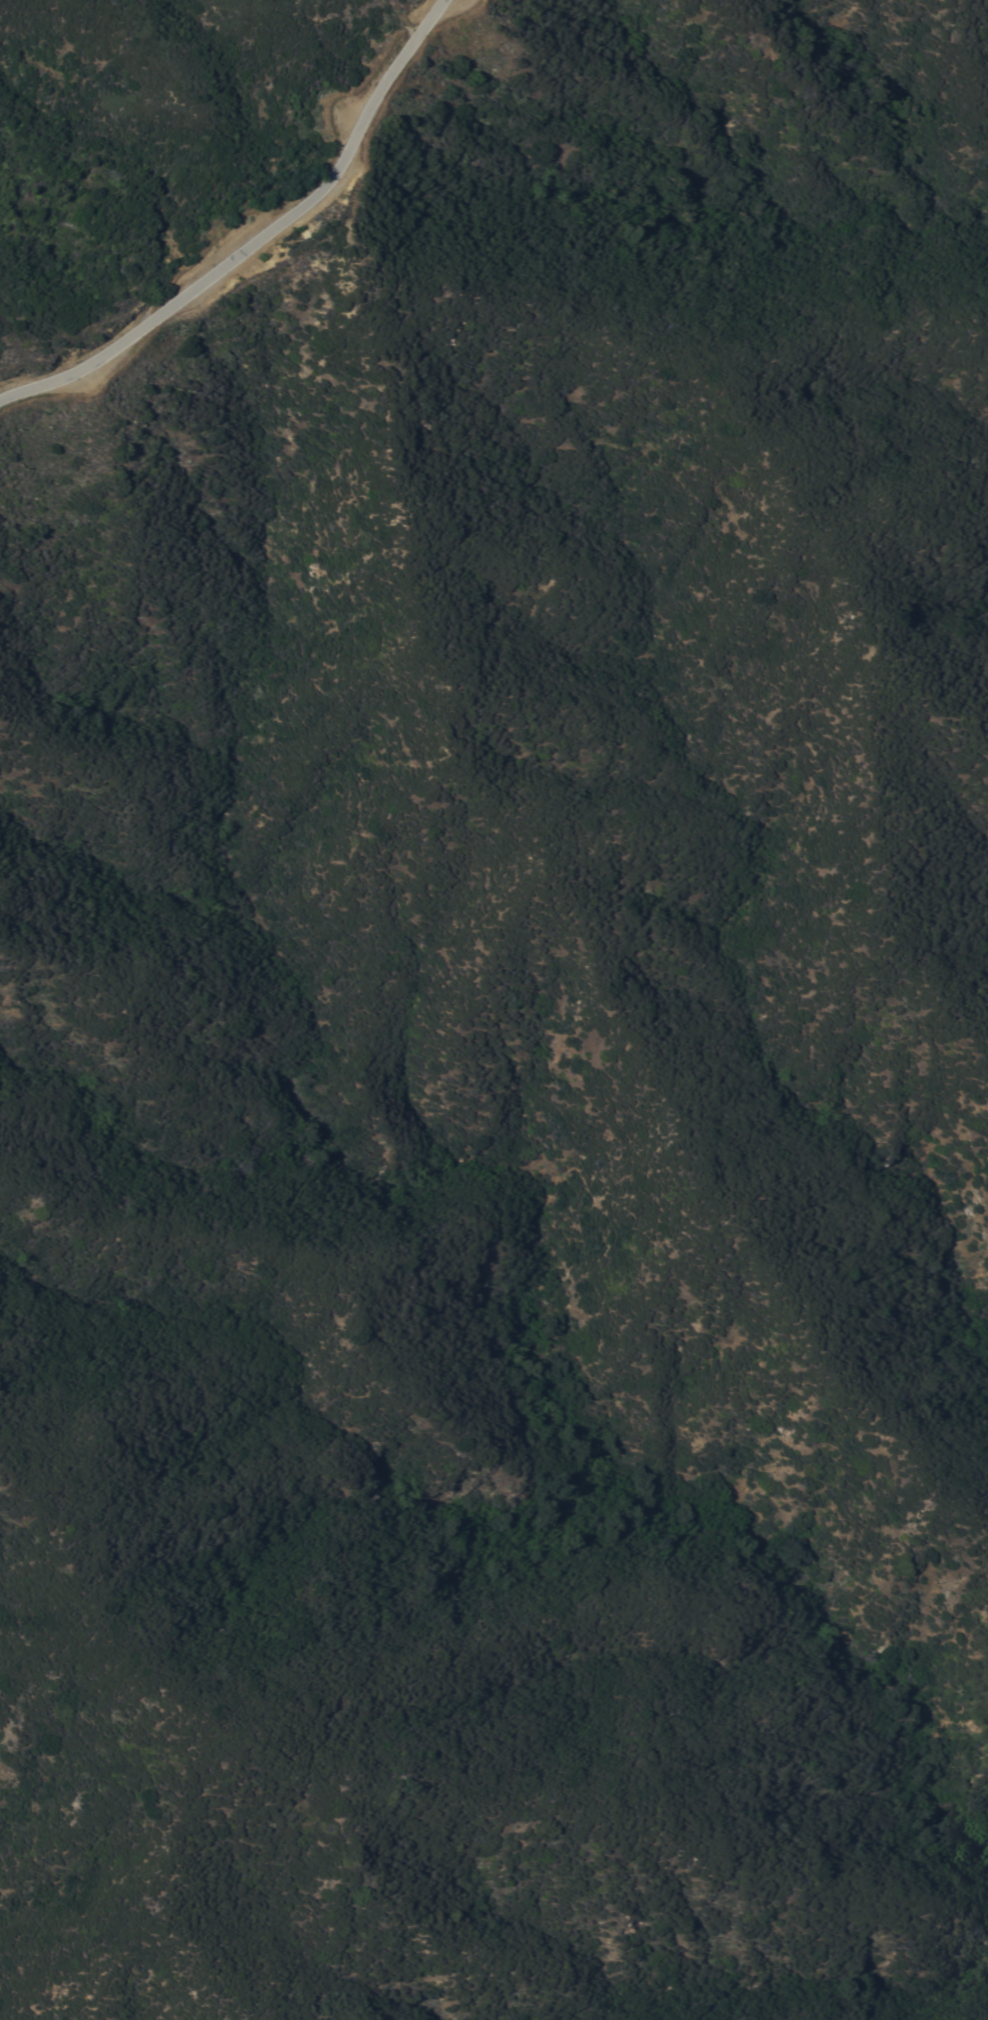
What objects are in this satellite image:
road: (257, 241)

